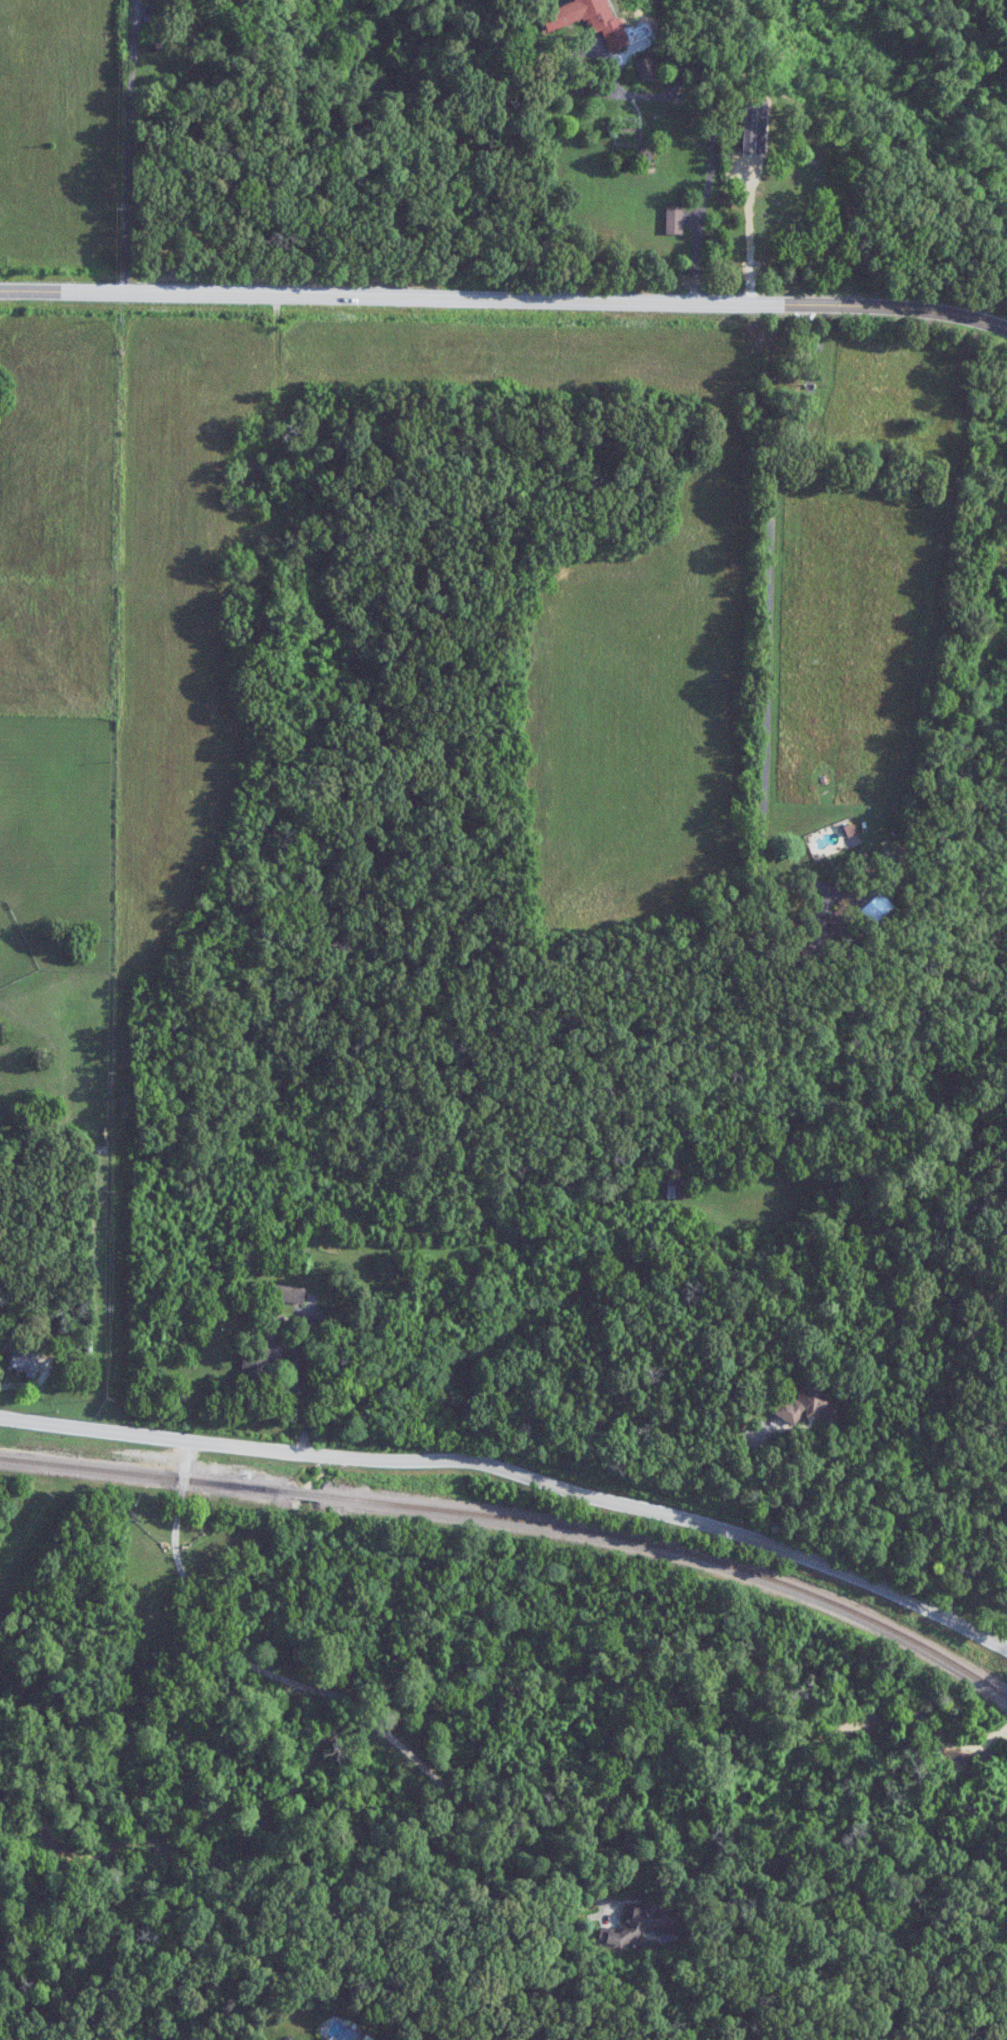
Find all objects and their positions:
building: (585, 20)
building: (644, 66)
road: (699, 67)
road: (679, 98)
building: (807, 116)
building: (675, 220)
road: (746, 230)
road: (903, 236)
road: (504, 298)
road: (952, 479)
road: (92, 541)
road: (145, 608)
building: (893, 866)
building: (827, 930)
building: (680, 1187)
building: (285, 1294)
building: (264, 1347)
building: (24, 1362)
building: (808, 1406)
road: (517, 1473)
railway: (522, 1522)
road: (198, 1612)
road: (361, 1711)
road: (481, 1820)
building: (640, 1923)

